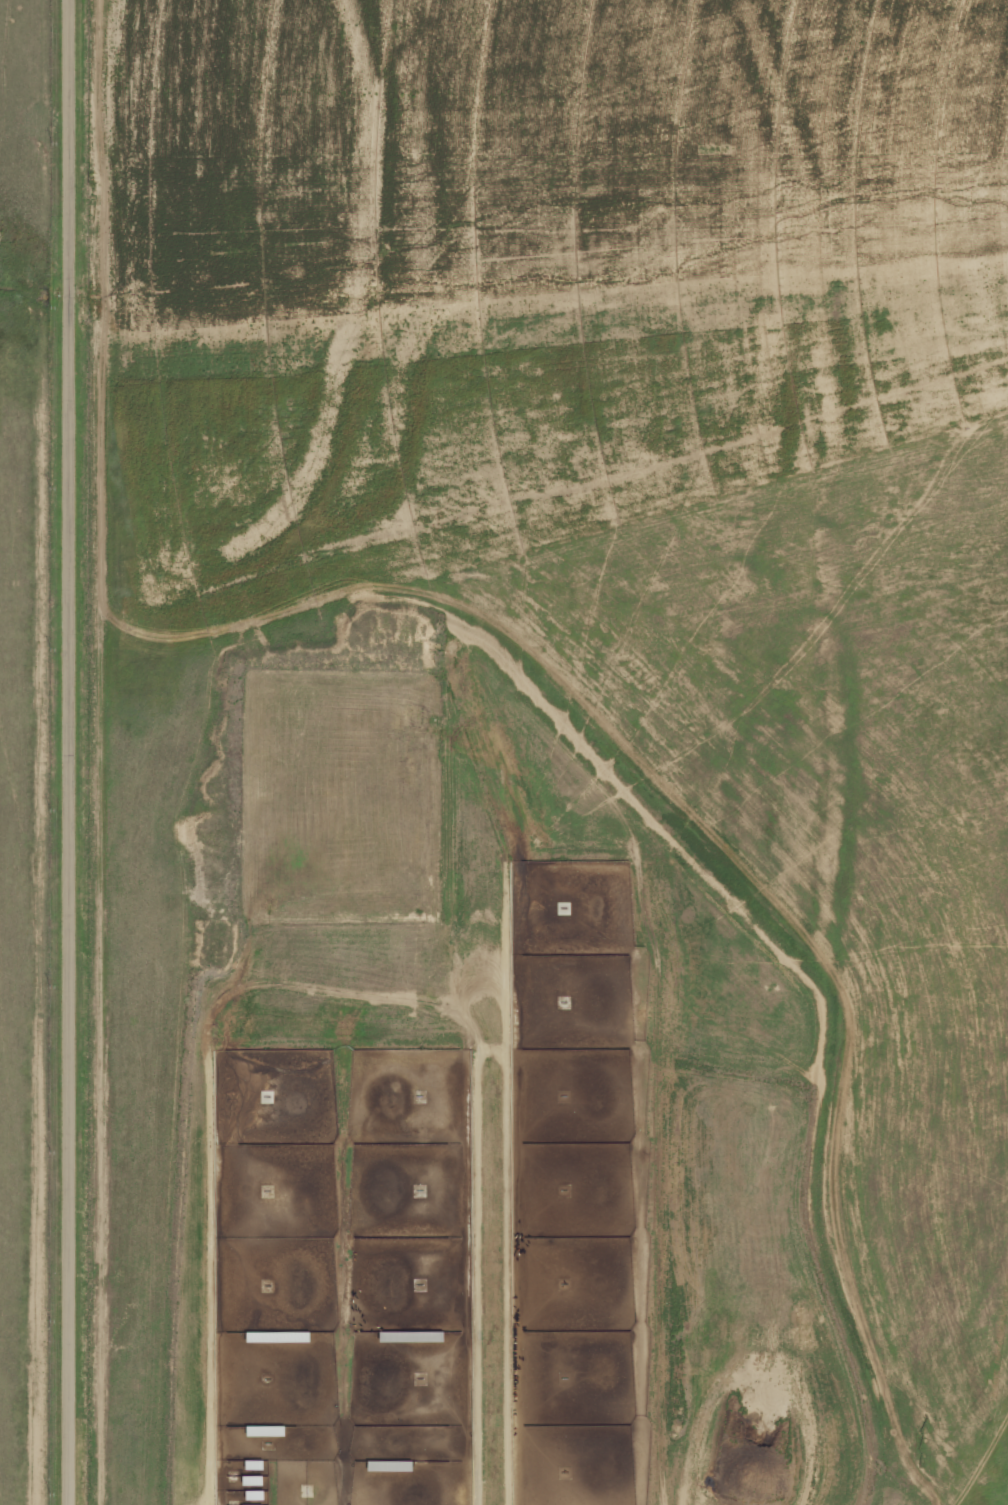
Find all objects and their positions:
road: (70, 752)
road: (492, 1049)
building: (276, 1335)
building: (264, 1430)
building: (253, 1464)
building: (389, 1464)
building: (252, 1479)
building: (253, 1494)
building: (250, 1504)

